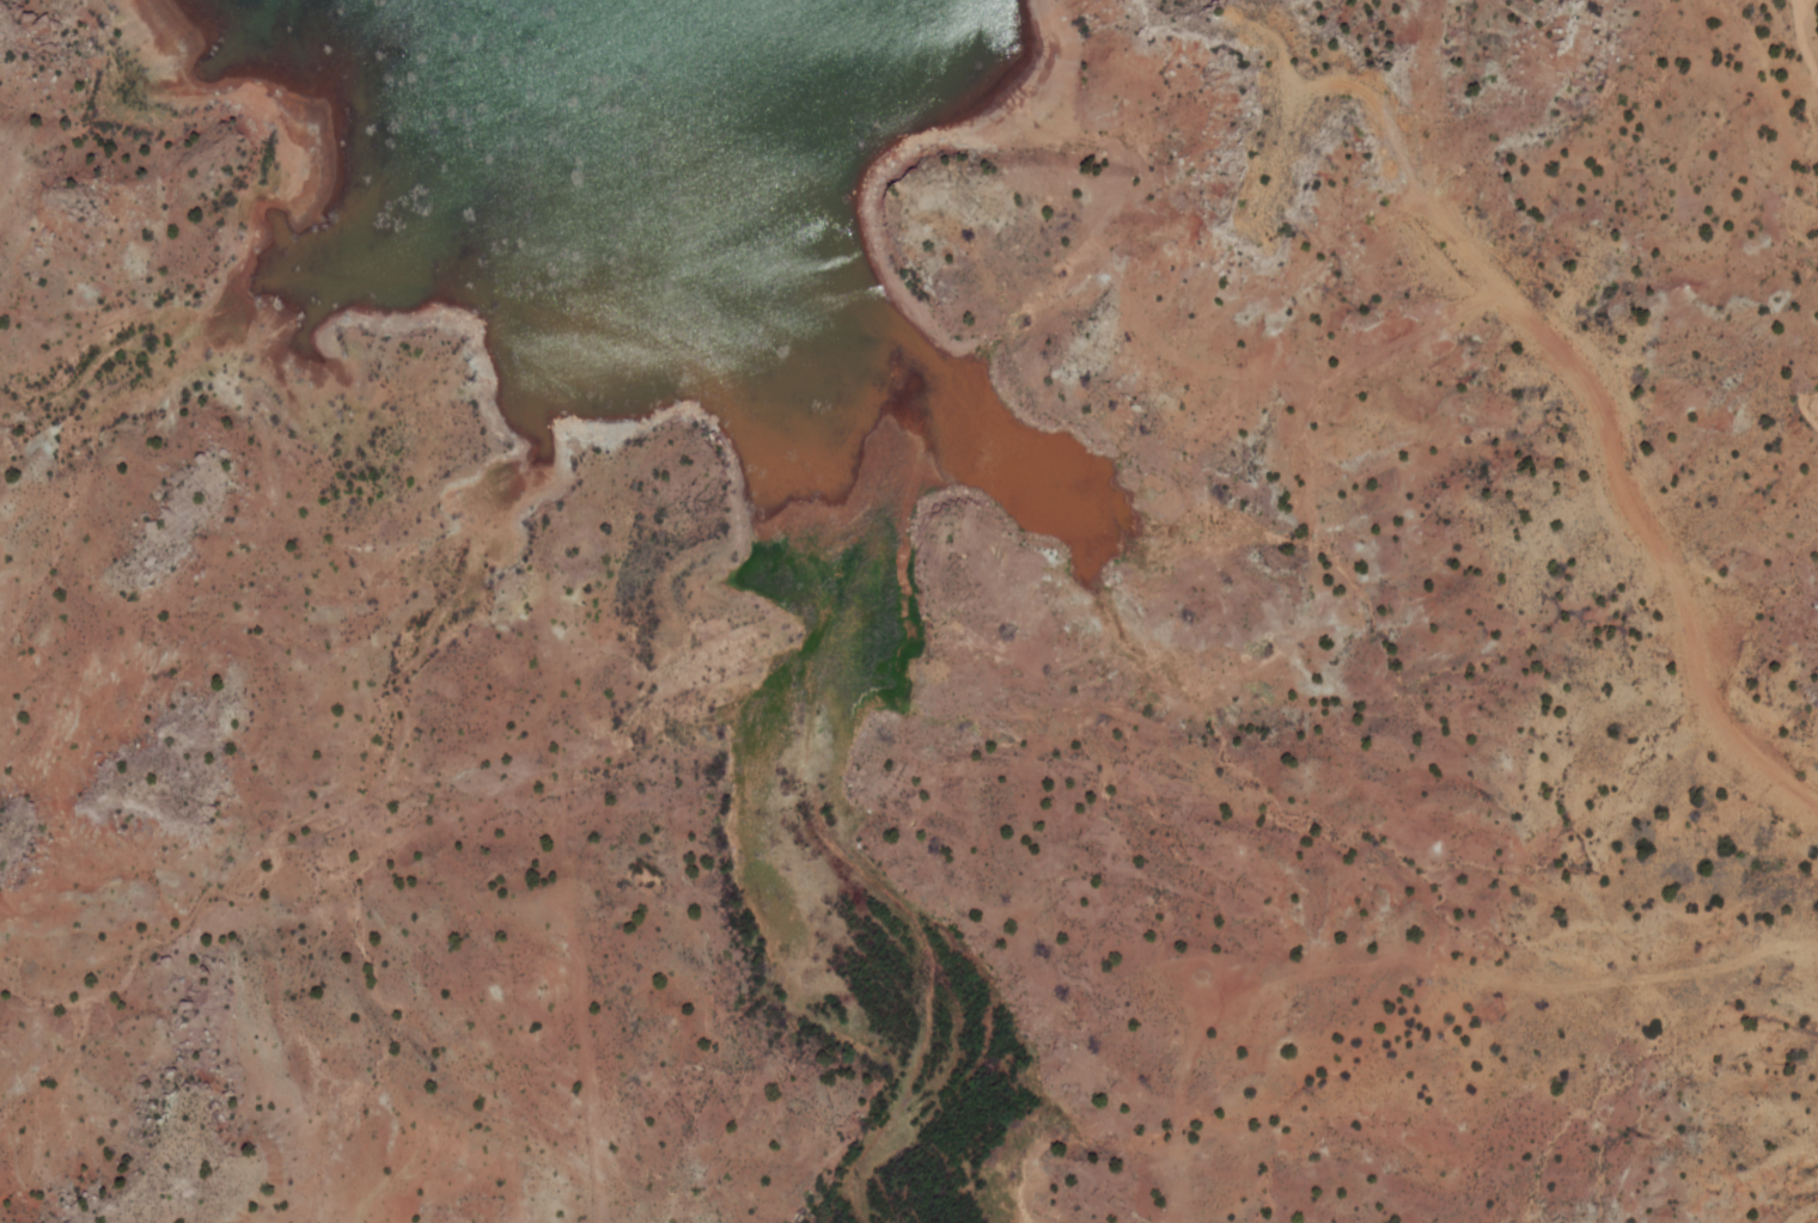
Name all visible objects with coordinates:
road: (1630, 503)

